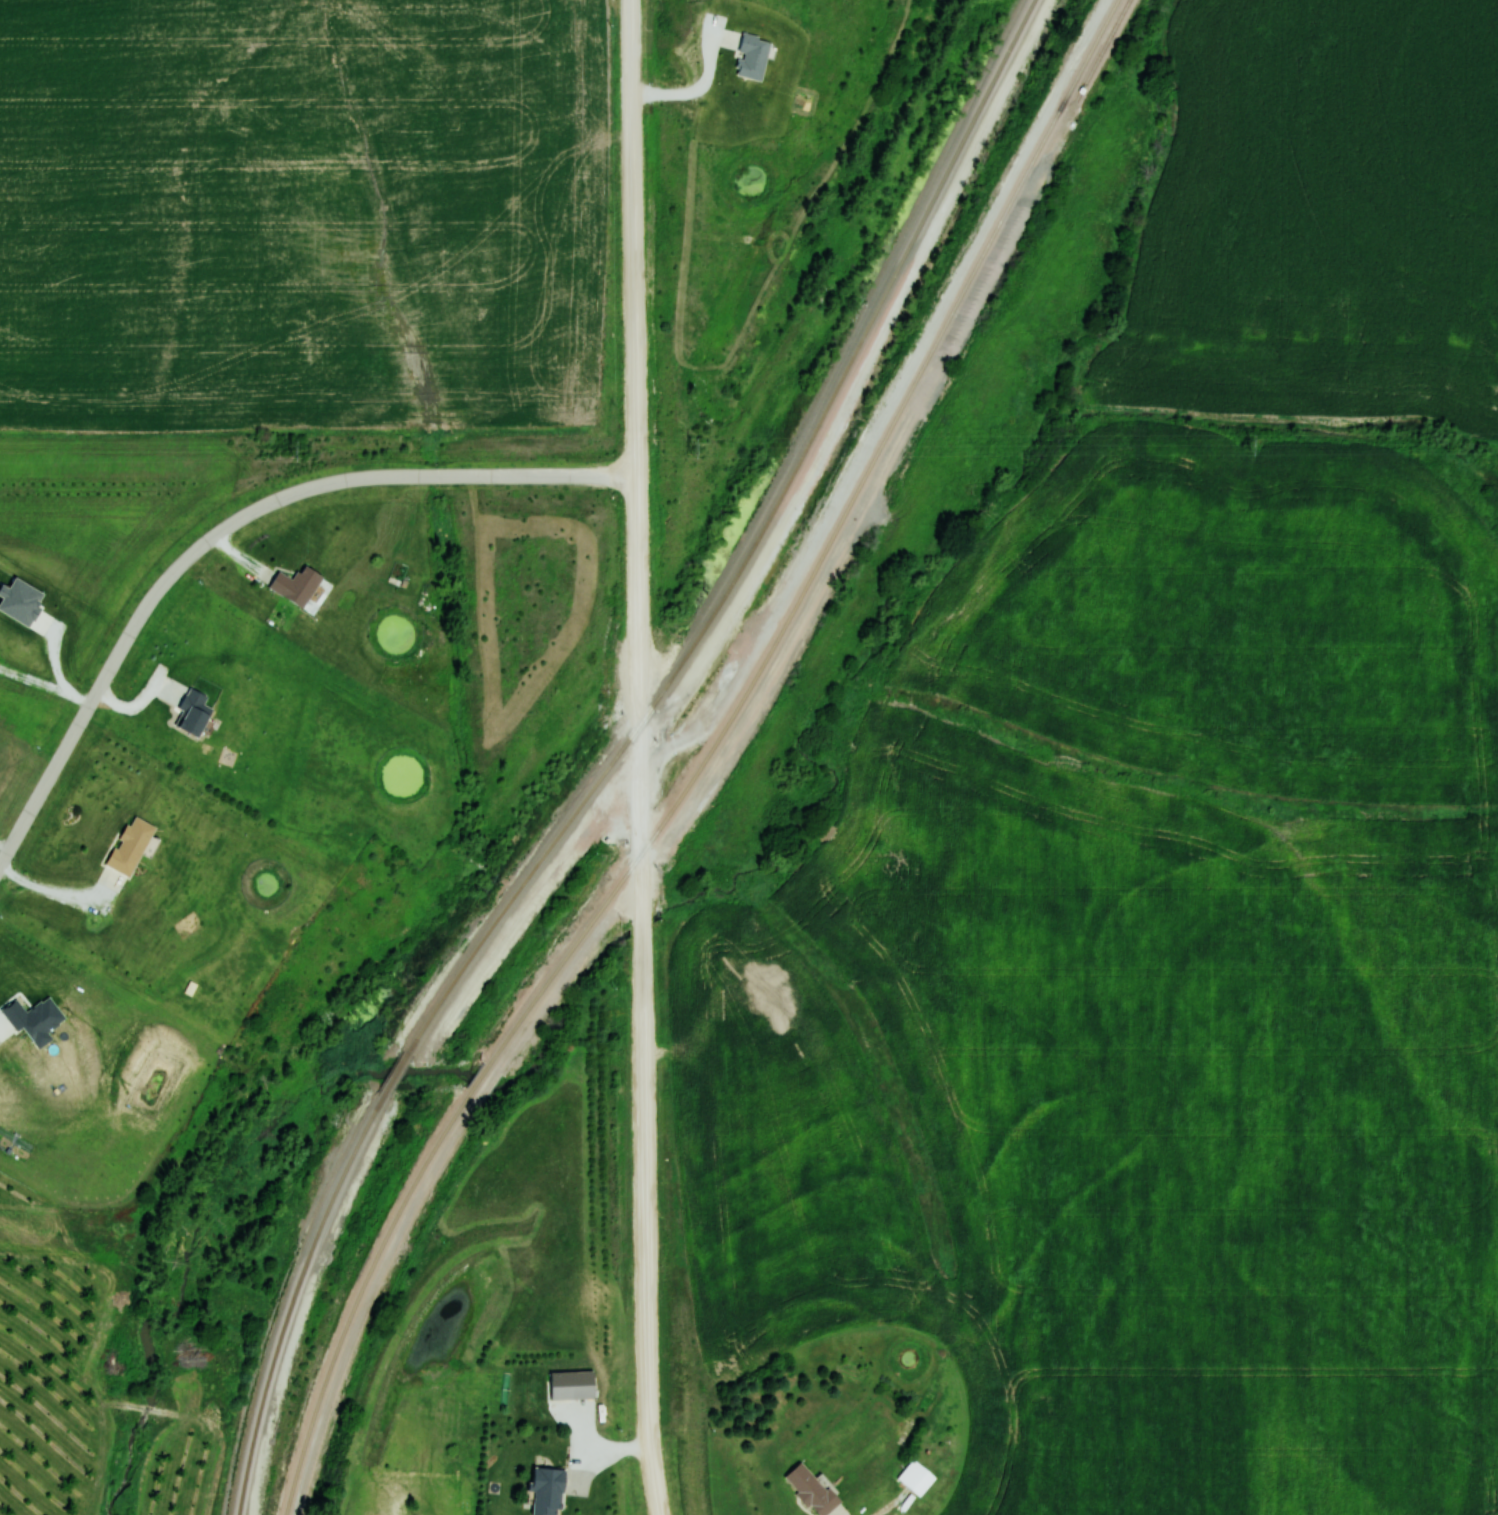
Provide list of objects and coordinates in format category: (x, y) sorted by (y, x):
power tower: (1248, 444)
power tower: (691, 449)
power tower: (292, 451)
road: (230, 526)
railway: (753, 539)
building: (296, 585)
building: (192, 713)
road: (639, 757)
railway: (700, 761)
building: (130, 846)
railway: (396, 1072)
railway: (292, 1301)
building: (572, 1386)
building: (916, 1478)
building: (811, 1490)
building: (547, 1491)

